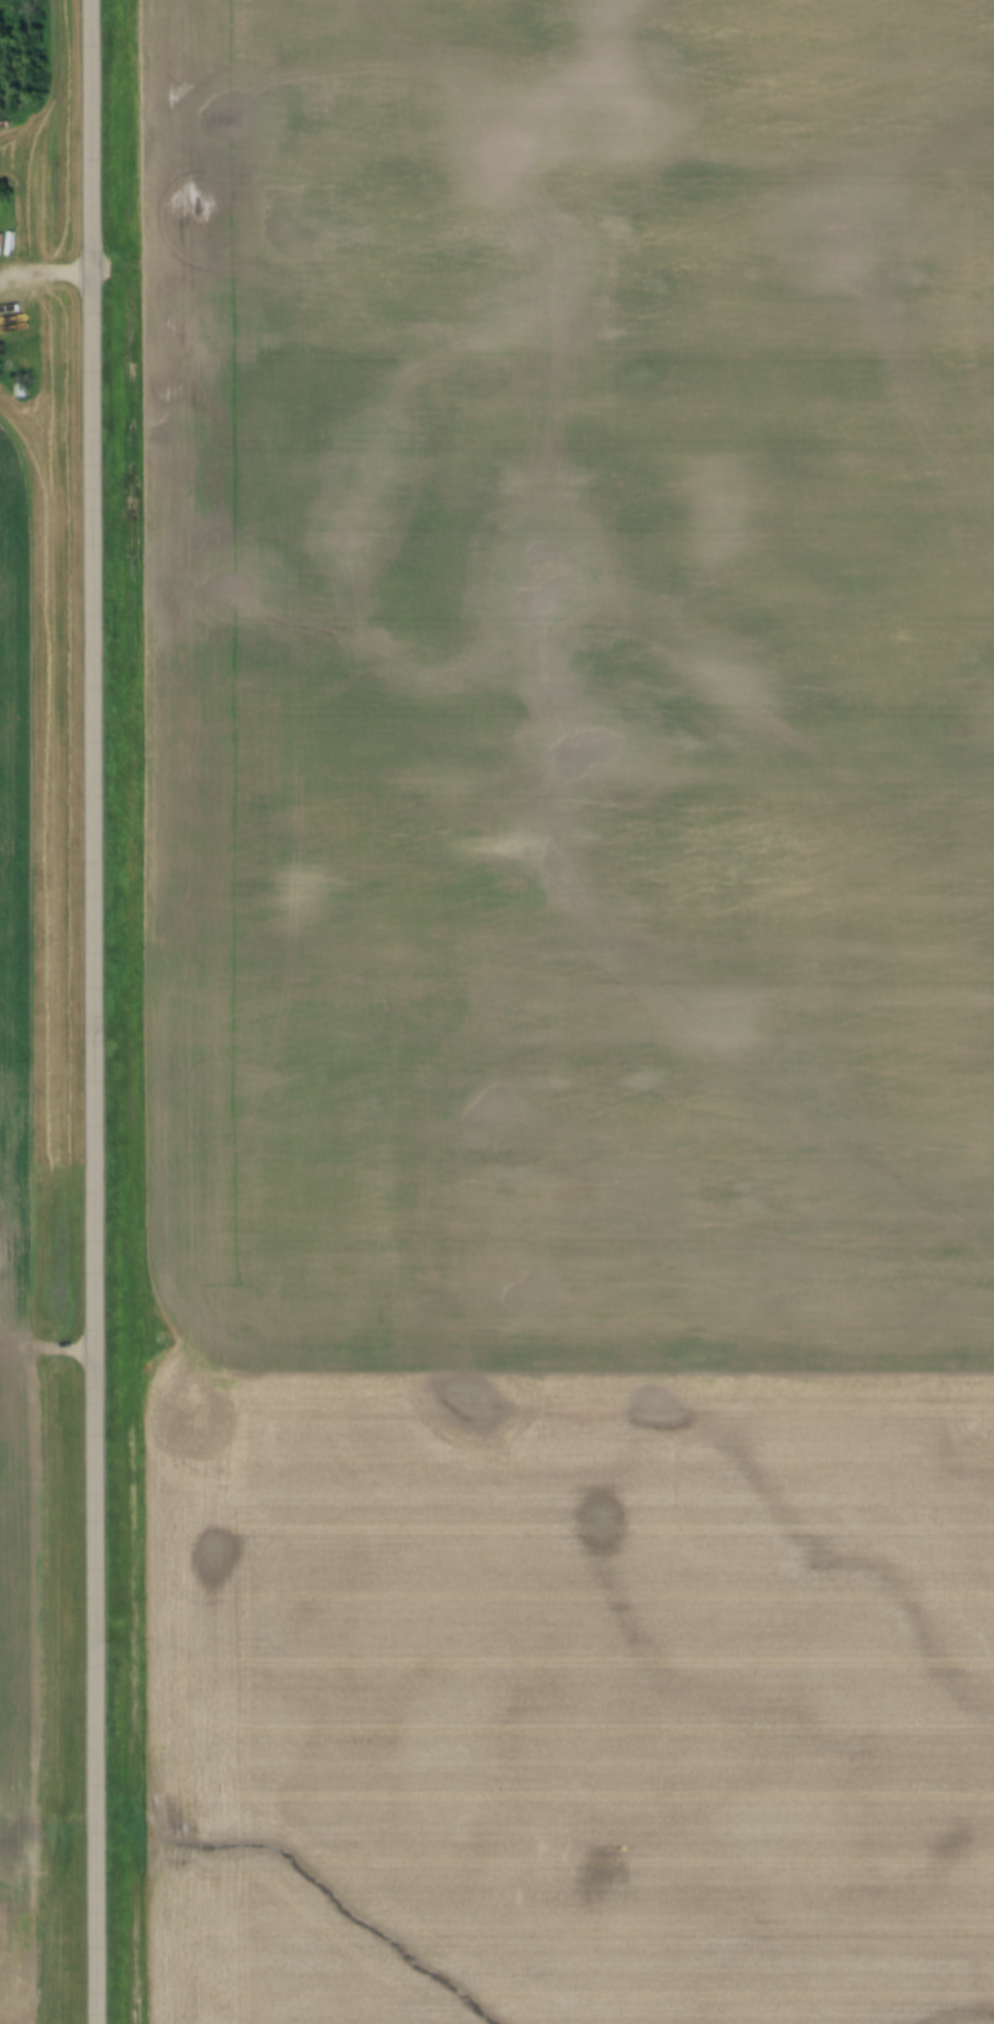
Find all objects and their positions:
building: (17, 390)
road: (96, 1012)

